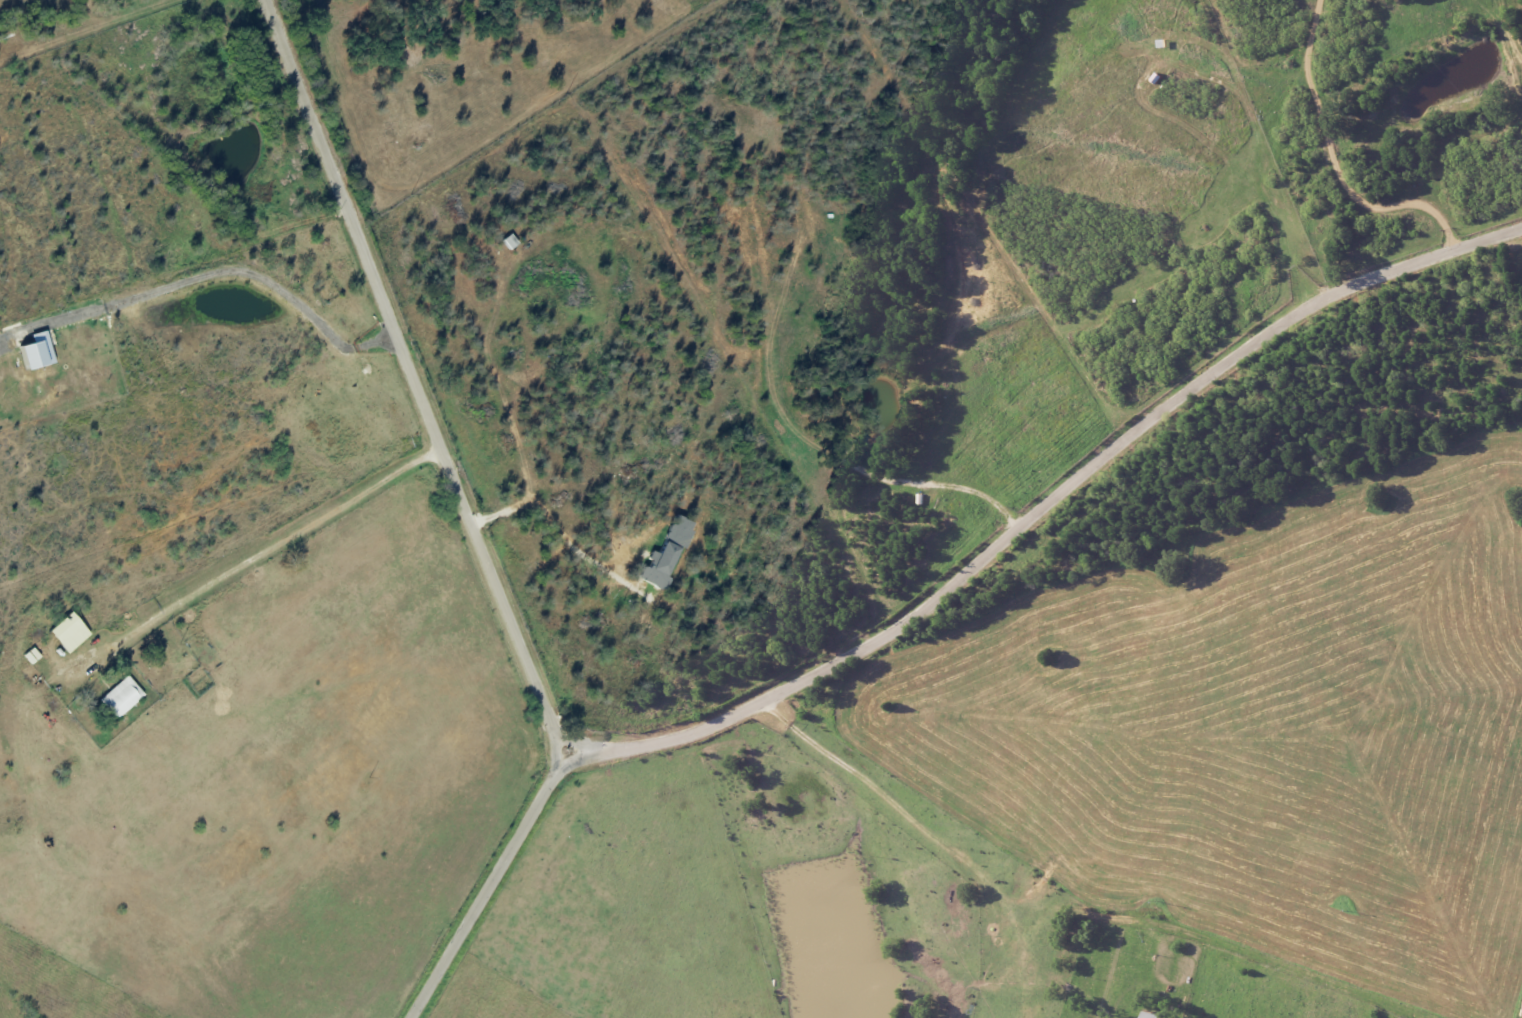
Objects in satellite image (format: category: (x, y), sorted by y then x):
road: (243, 271)
building: (39, 351)
road: (416, 379)
road: (1046, 505)
road: (544, 510)
road: (259, 553)
building: (667, 553)
building: (70, 632)
building: (123, 696)
road: (918, 823)
road: (488, 888)

